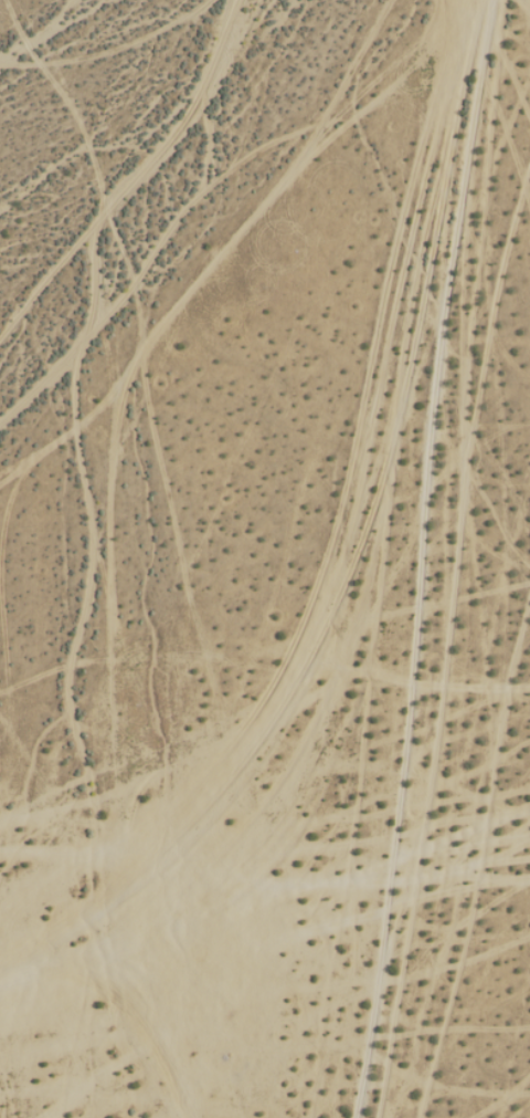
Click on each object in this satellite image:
road: (422, 560)

